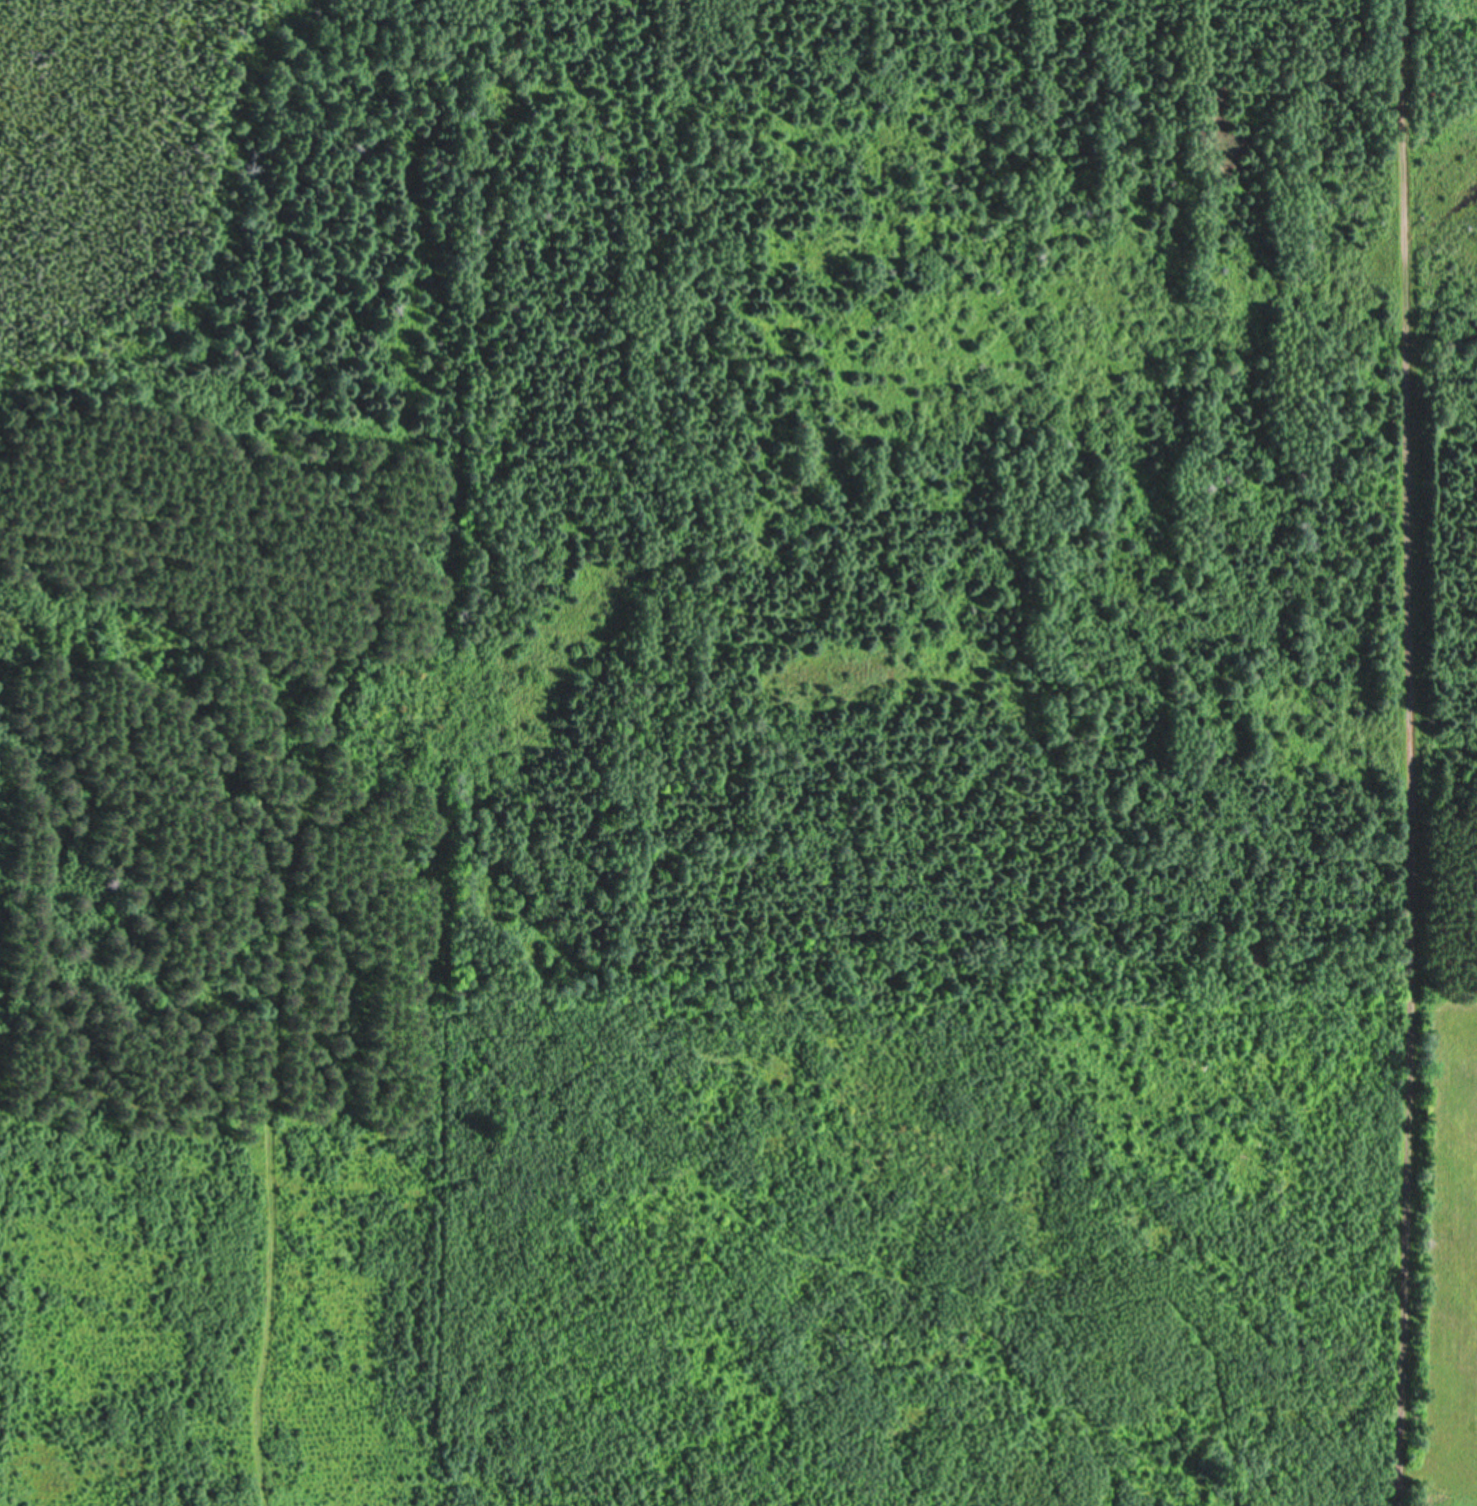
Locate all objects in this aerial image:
road: (1416, 753)

